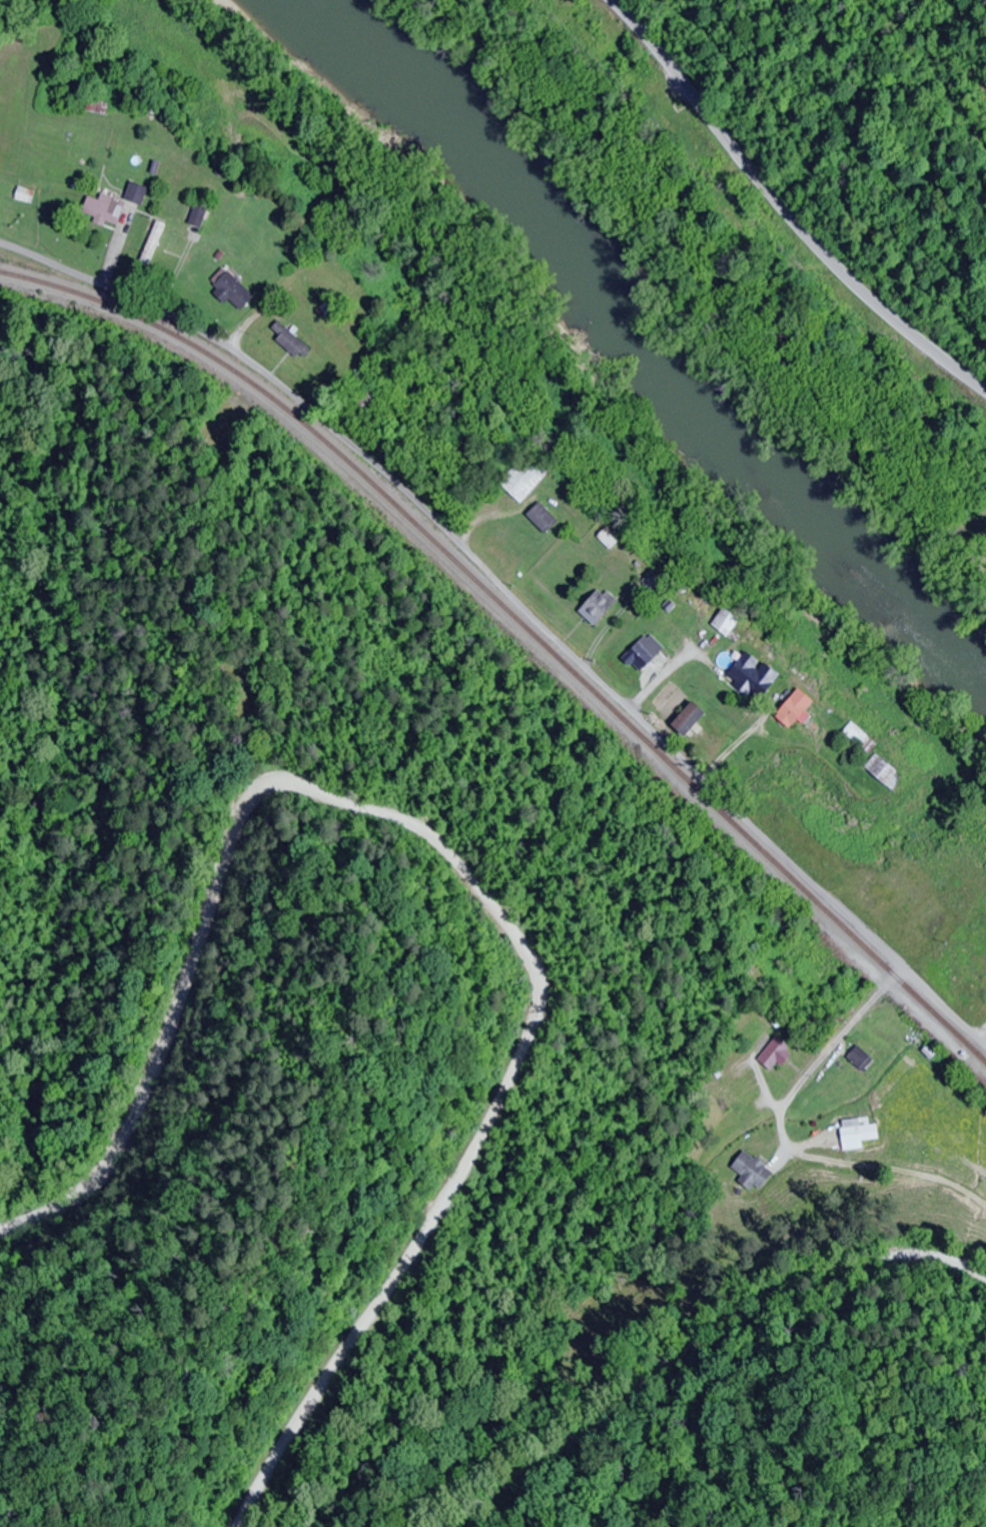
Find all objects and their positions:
building: (680, 130)
park: (6, 192)
building: (136, 192)
building: (25, 194)
building: (104, 209)
road: (781, 211)
building: (730, 213)
building: (198, 215)
building: (165, 235)
building: (231, 289)
river: (641, 328)
building: (293, 345)
building: (364, 404)
building: (523, 478)
building: (542, 517)
building: (651, 582)
building: (597, 606)
road: (519, 609)
building: (725, 622)
railway: (520, 625)
building: (643, 653)
building: (752, 676)
building: (793, 710)
building: (687, 719)
building: (856, 736)
building: (880, 769)
road: (459, 863)
building: (982, 935)
building: (822, 969)
building: (774, 1055)
building: (860, 1059)
building: (859, 1132)
road: (784, 1142)
building: (752, 1170)
road: (692, 1337)

